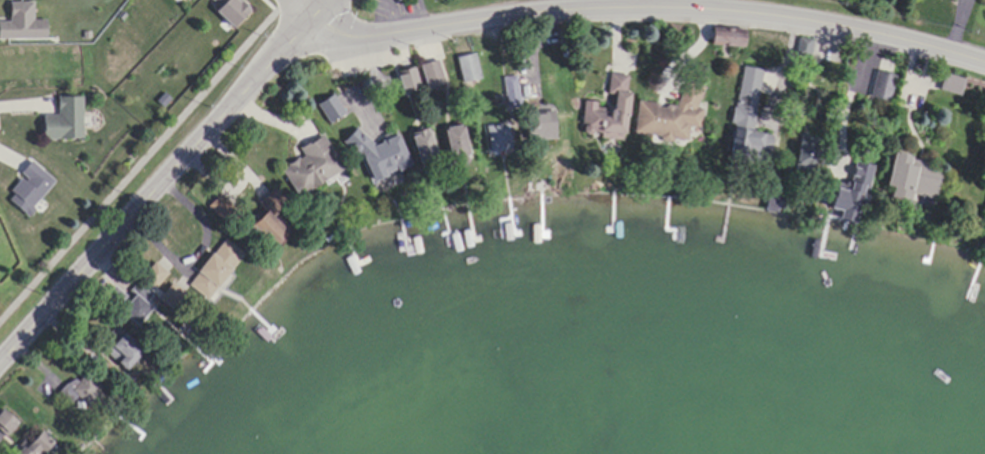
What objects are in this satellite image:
building: (187, 0)
building: (395, 0)
road: (663, 3)
road: (301, 4)
road: (643, 6)
building: (228, 9)
building: (22, 23)
building: (801, 48)
building: (468, 69)
building: (432, 75)
building: (408, 81)
building: (880, 87)
building: (746, 98)
road: (847, 99)
building: (330, 109)
building: (670, 116)
building: (608, 119)
building: (64, 120)
building: (539, 126)
building: (496, 138)
building: (454, 141)
building: (421, 146)
building: (376, 154)
building: (311, 165)
building: (912, 176)
road: (160, 185)
building: (29, 189)
building: (847, 206)
building: (267, 221)
building: (215, 264)
building: (152, 275)
building: (133, 310)
building: (117, 349)
building: (77, 389)
building: (36, 445)

